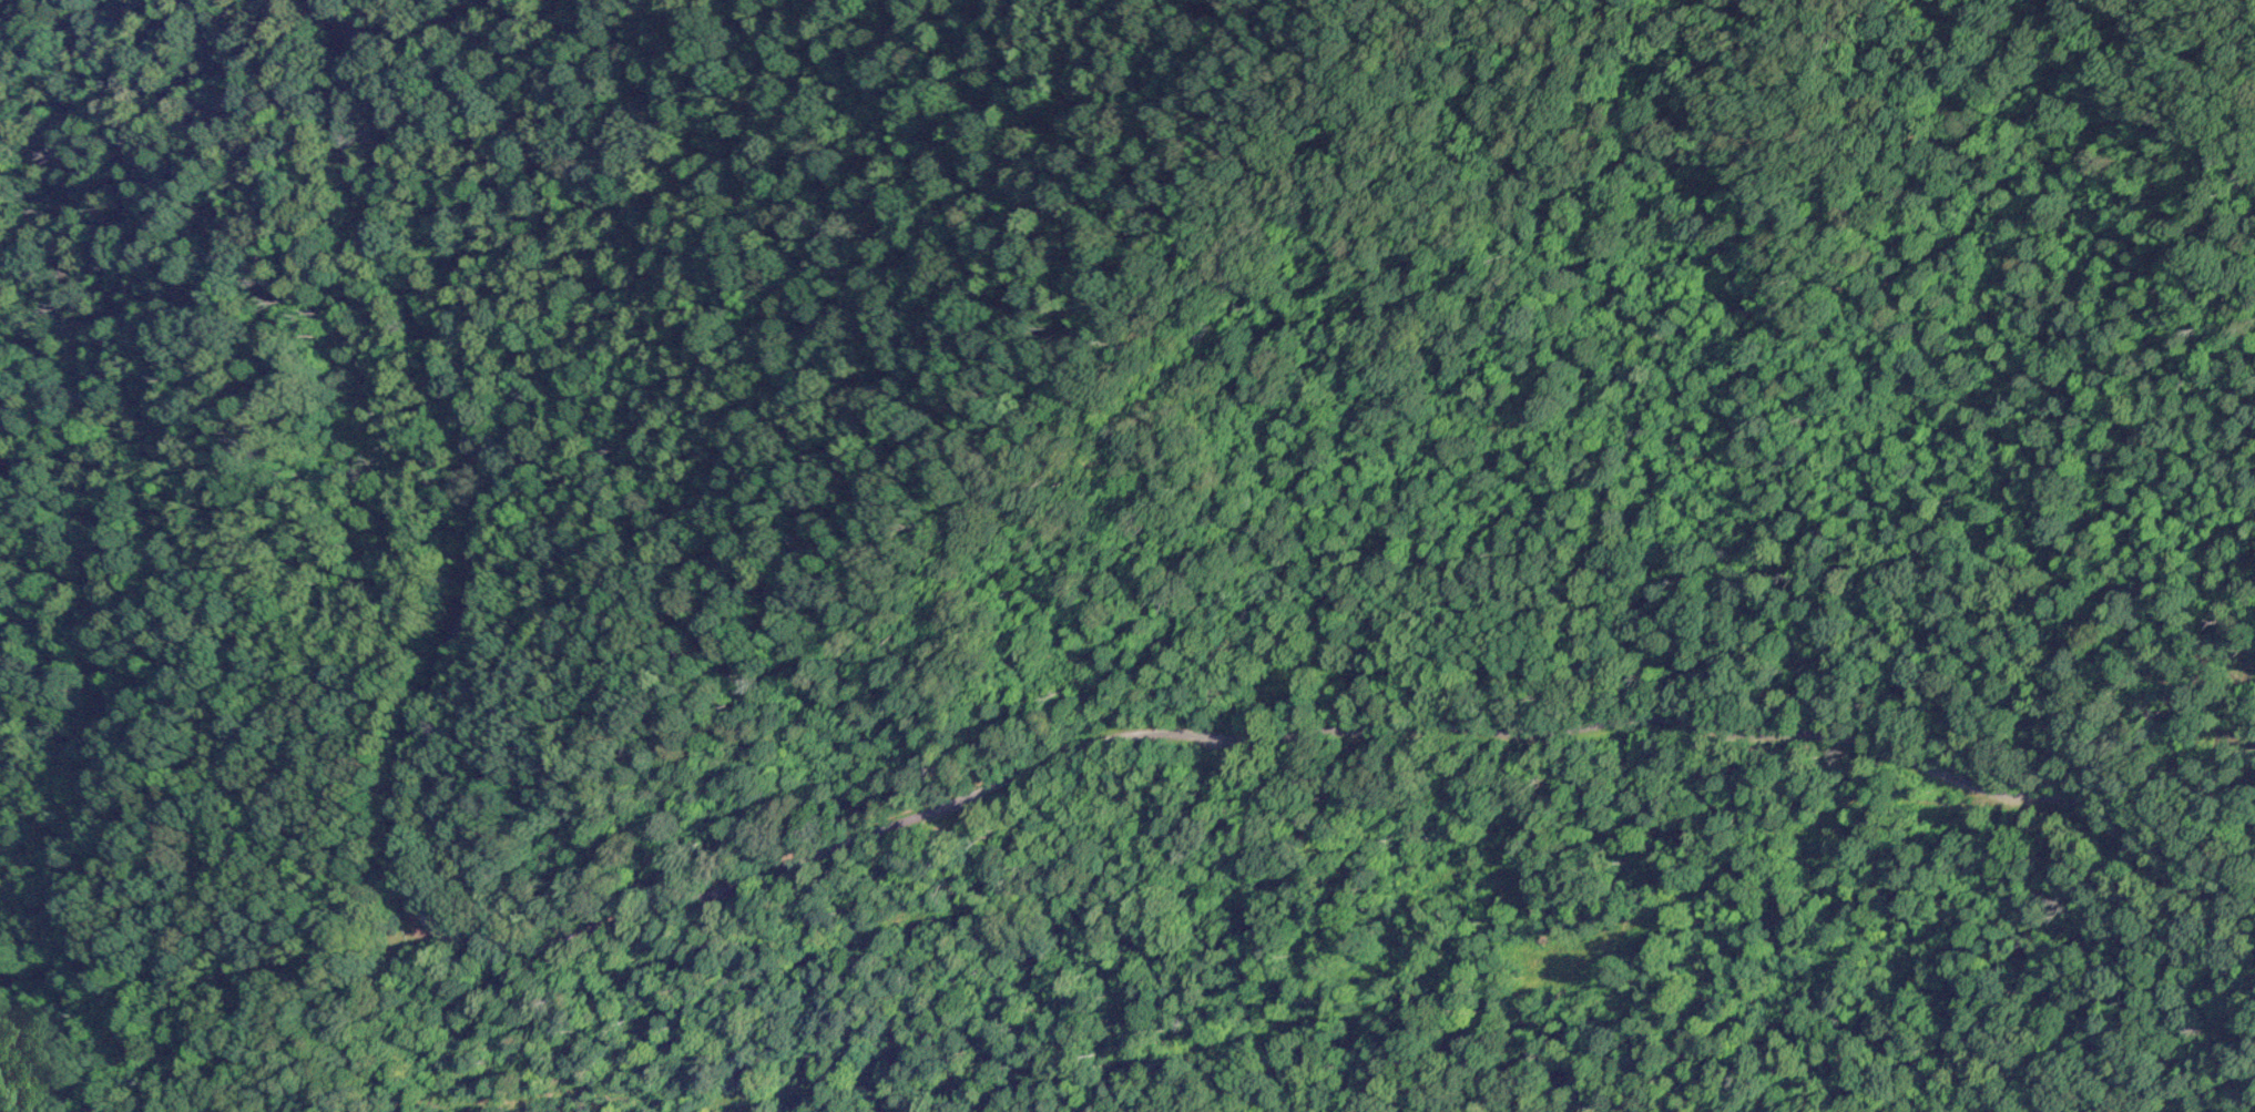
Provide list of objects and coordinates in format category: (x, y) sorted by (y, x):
road: (869, 861)
road: (341, 1036)

